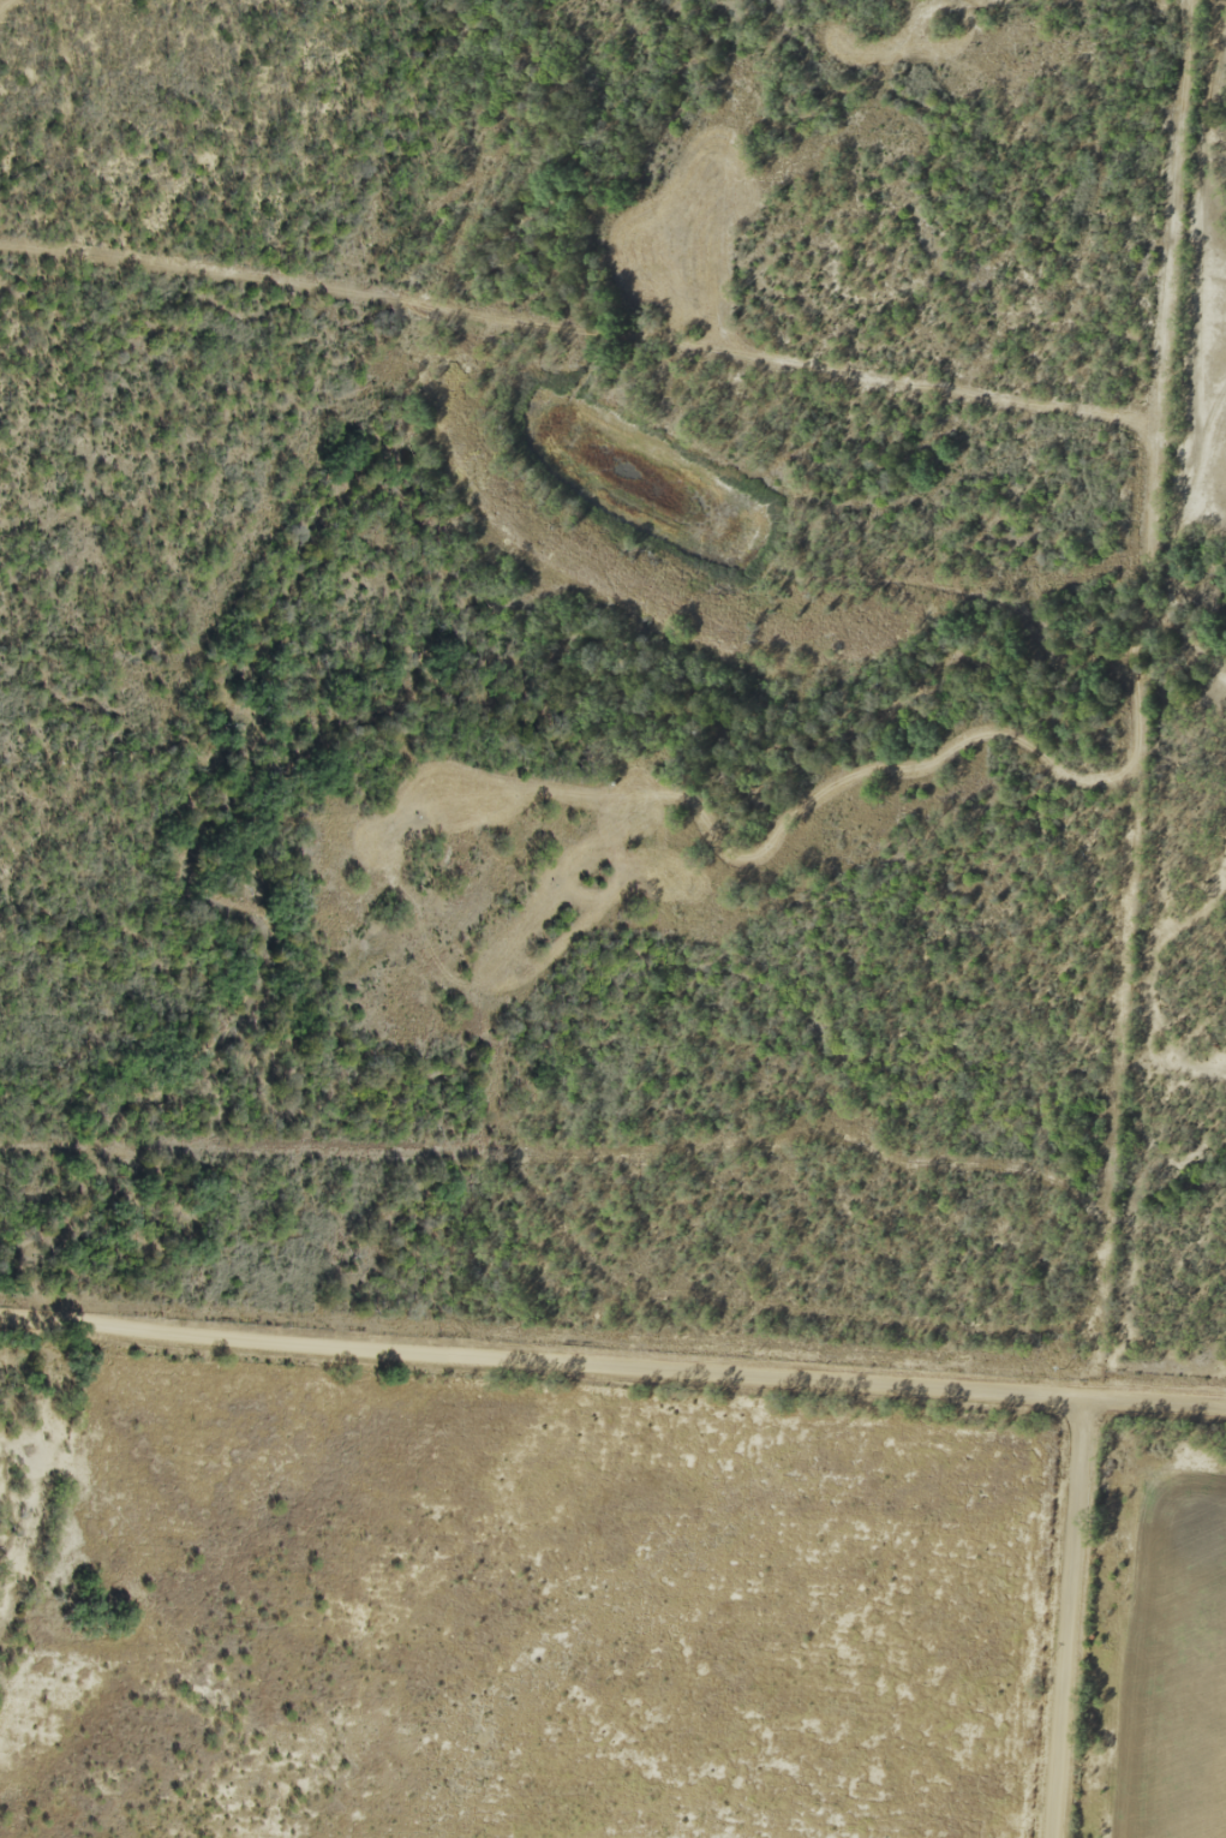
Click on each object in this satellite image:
road: (5, 5)
road: (614, 1353)
road: (1061, 1621)

